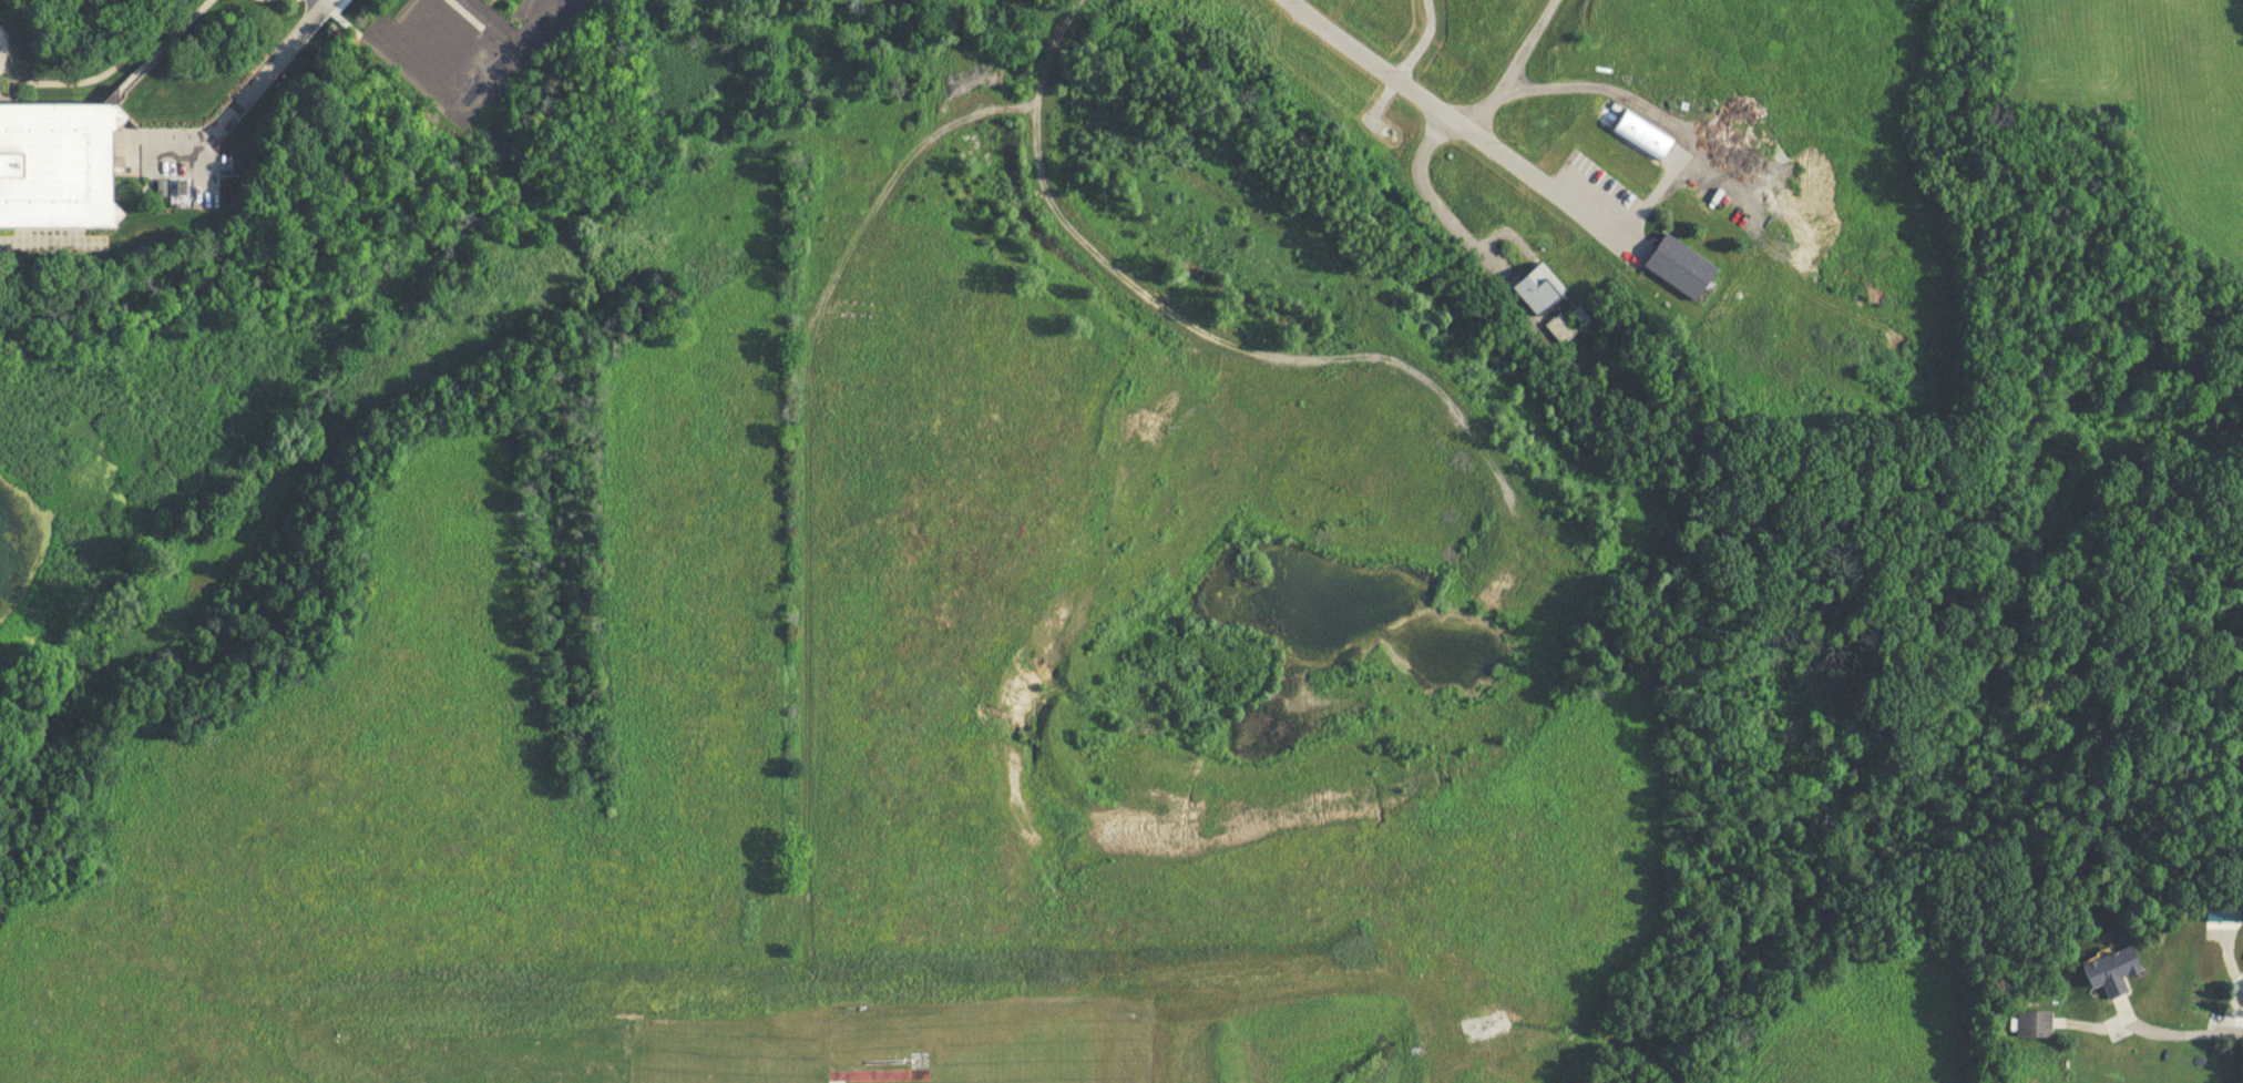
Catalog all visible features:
road: (325, 1)
road: (492, 19)
road: (532, 20)
road: (399, 23)
road: (444, 40)
road: (1421, 40)
road: (1048, 47)
road: (114, 64)
road: (1514, 68)
road: (479, 71)
road: (247, 96)
road: (1650, 111)
building: (1609, 113)
road: (1450, 116)
building: (57, 166)
road: (1431, 201)
building: (1679, 265)
building: (1538, 286)
building: (1561, 327)
road: (2227, 958)
building: (2112, 970)
road: (2236, 1009)
building: (2032, 1023)
road: (2134, 1024)
road: (2092, 1026)
road: (2202, 1033)

